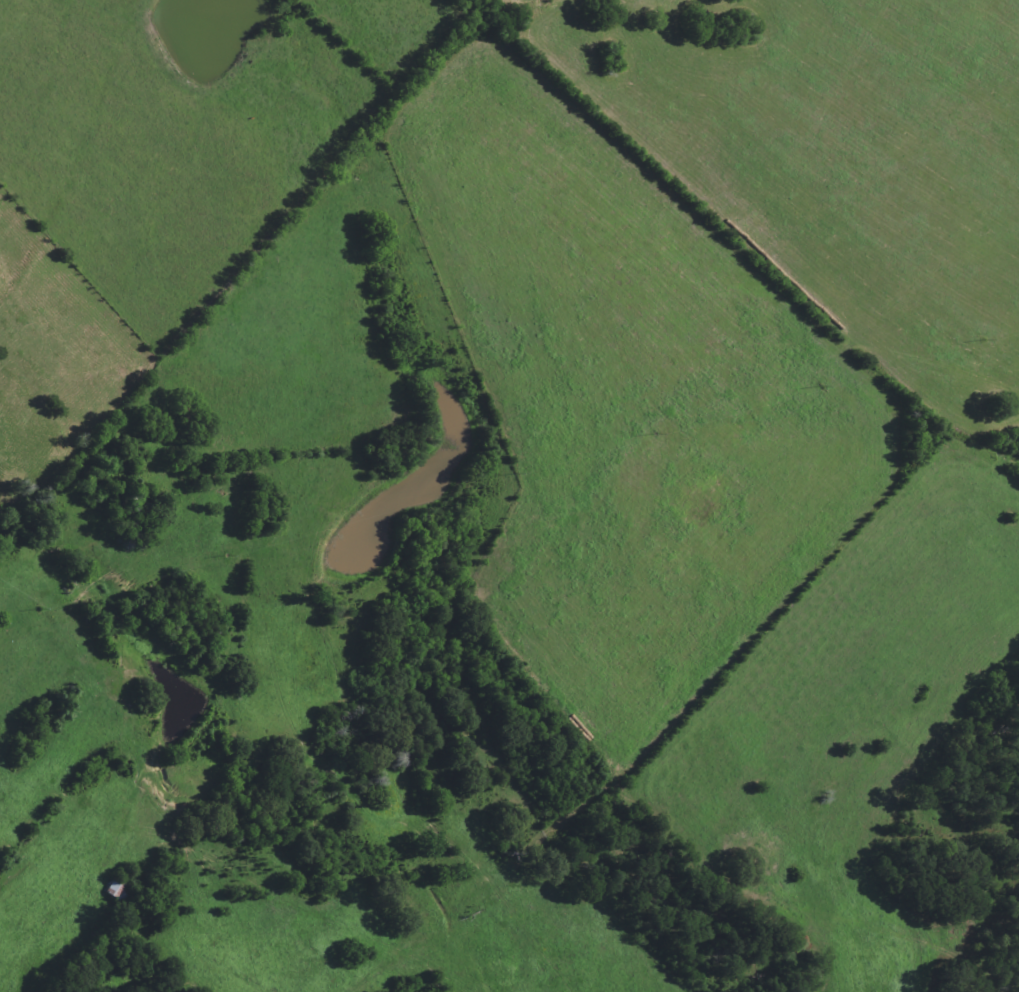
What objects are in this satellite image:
road: (68, 552)

